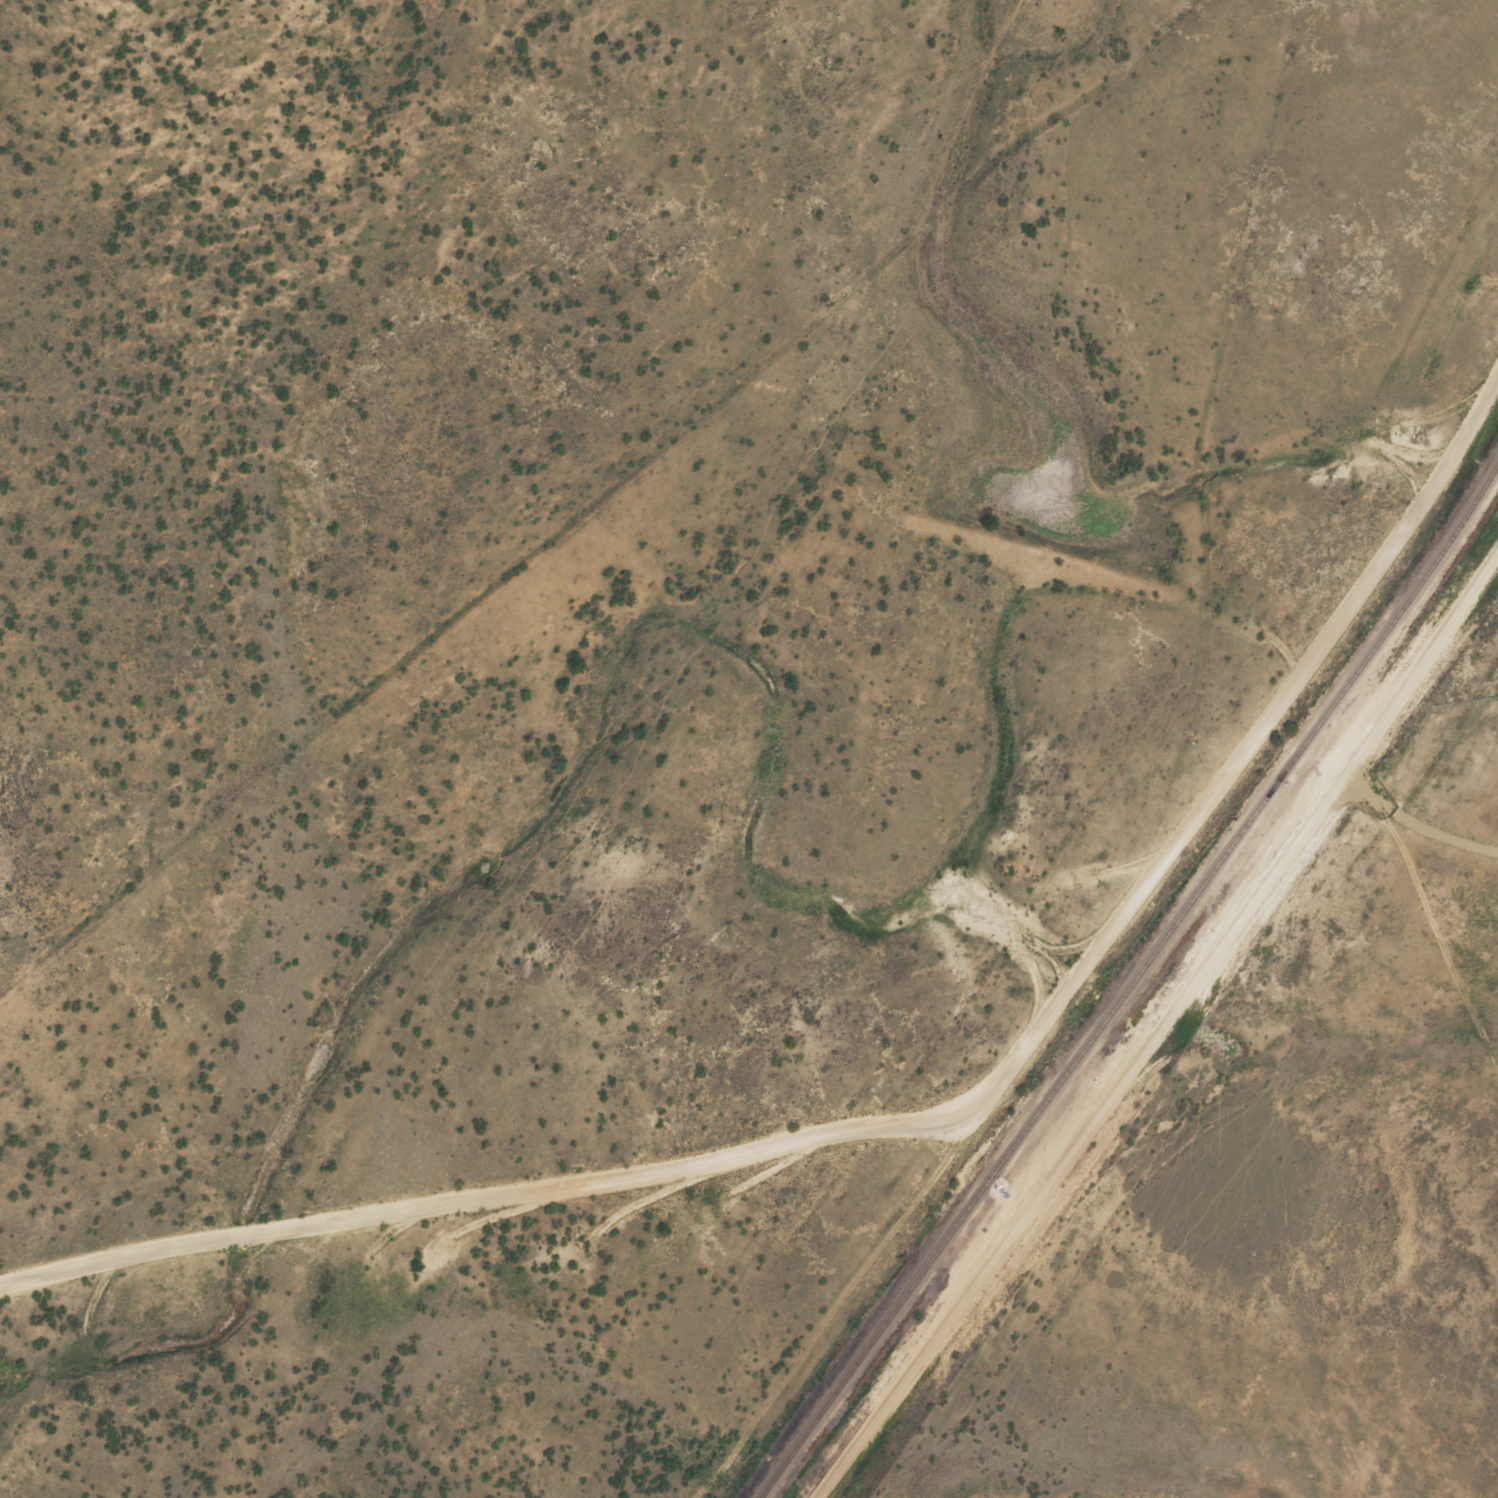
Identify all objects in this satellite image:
road: (590, 476)
road: (1430, 942)
railway: (1131, 978)
road: (1182, 1002)
road: (838, 1471)

